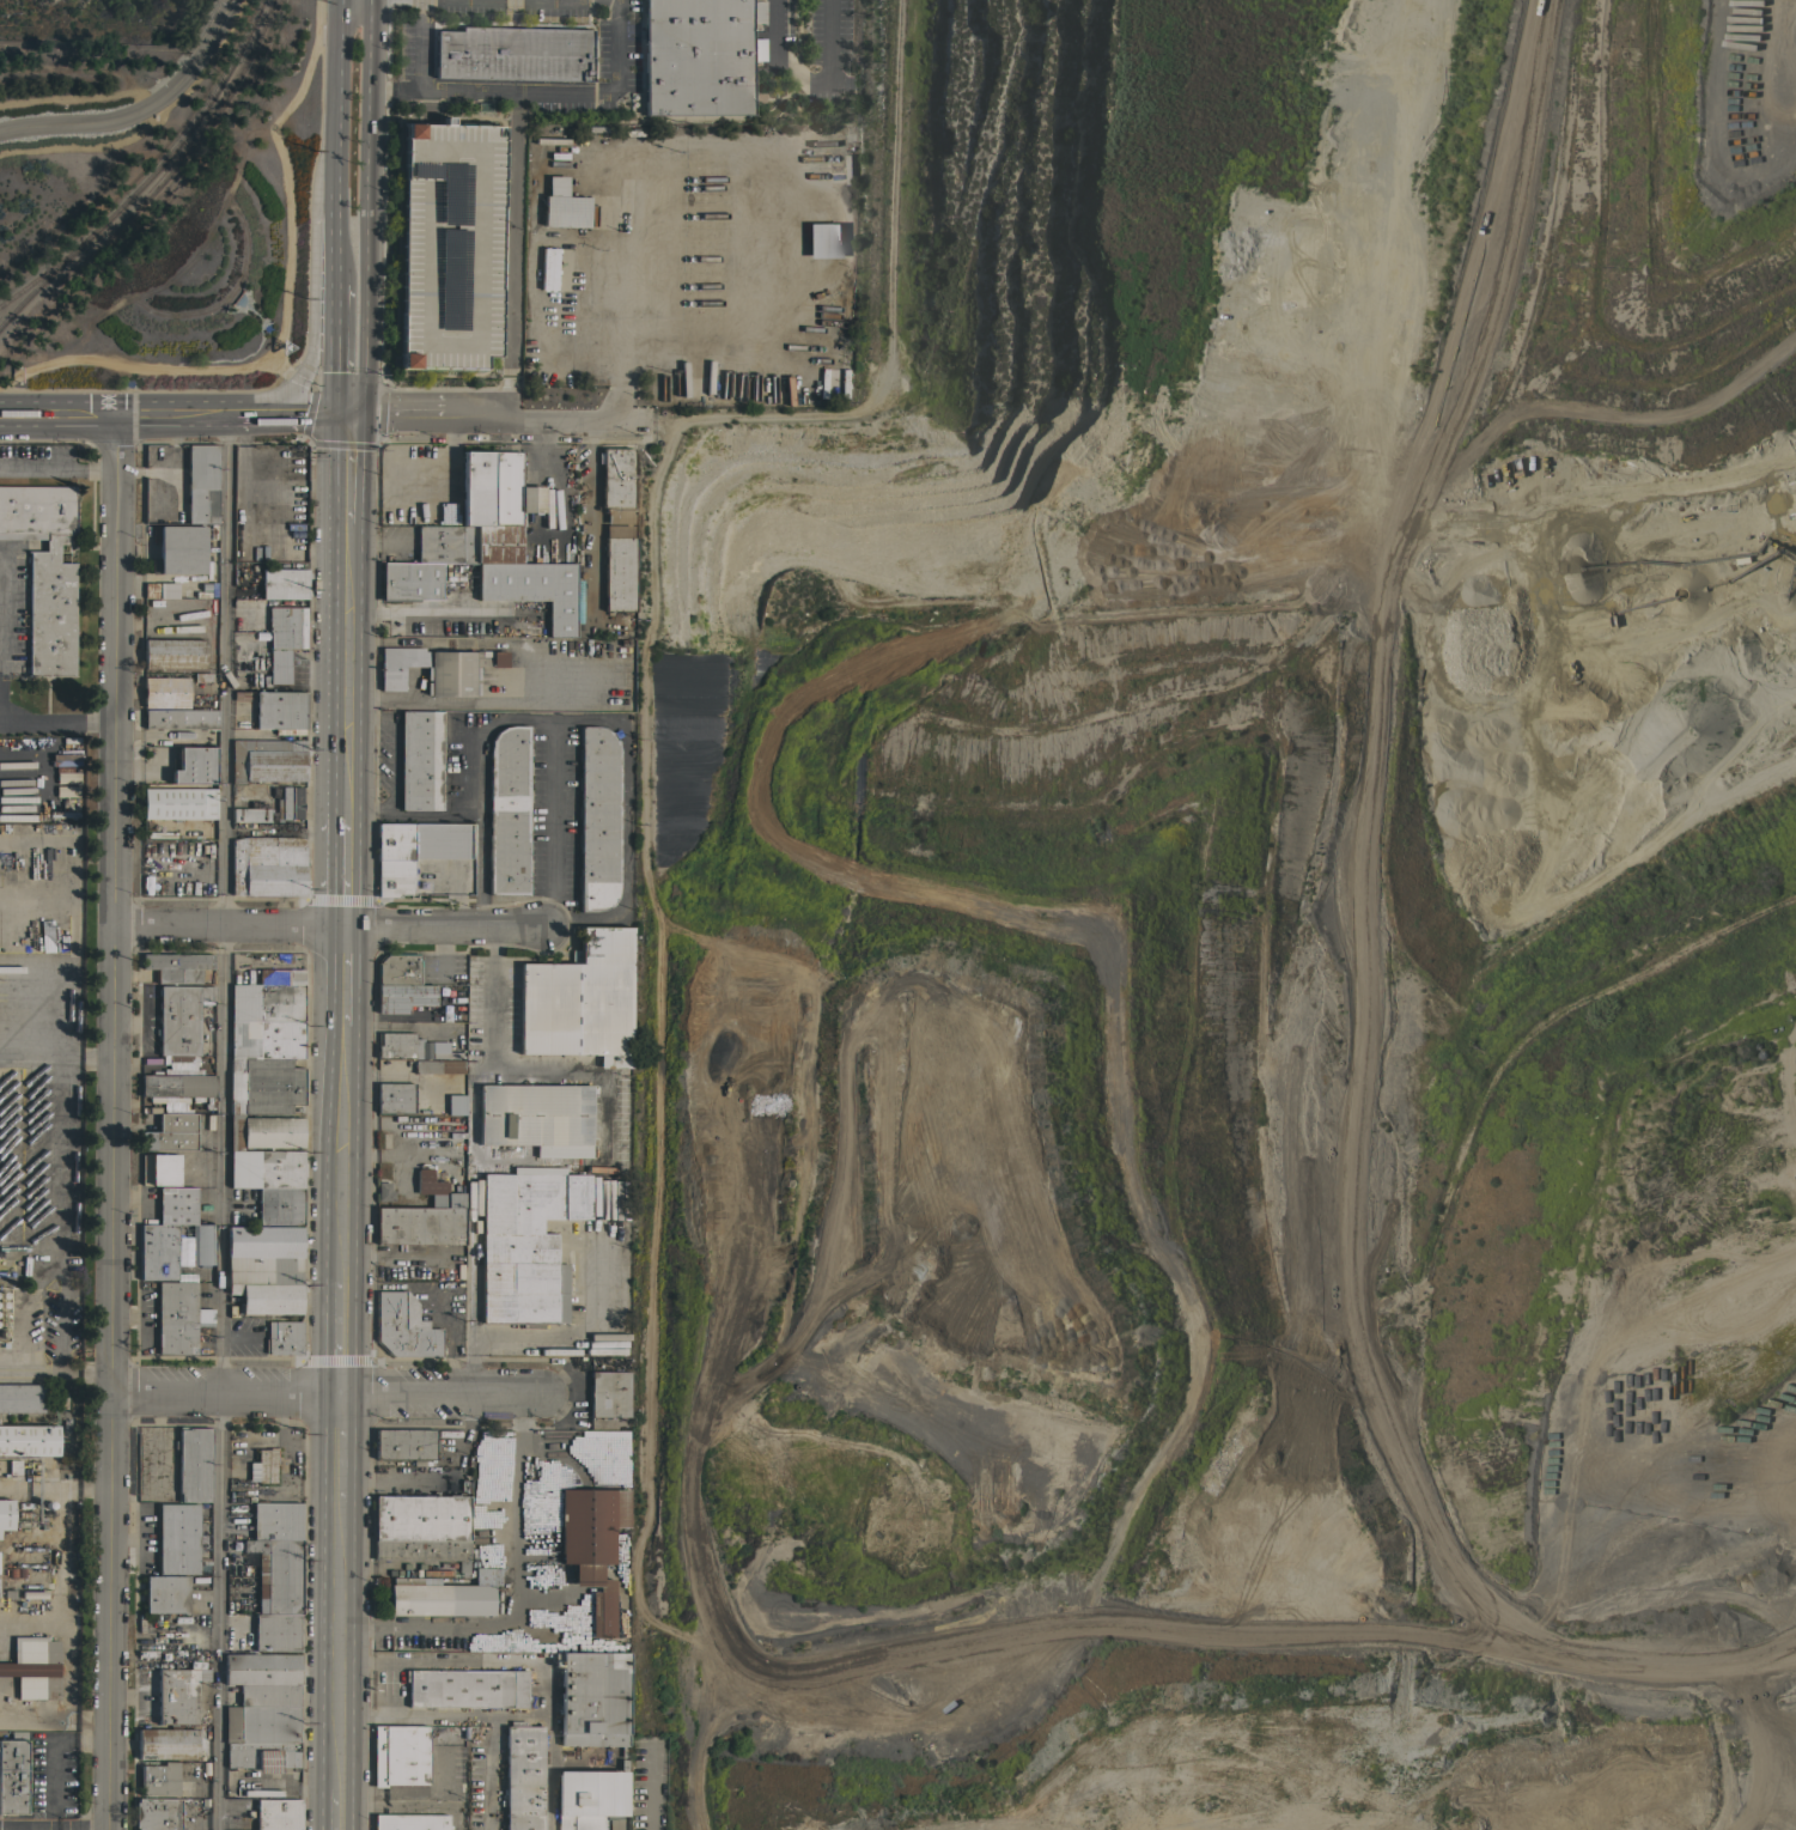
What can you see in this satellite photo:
building: (513, 54)
building: (699, 55)
road: (808, 75)
road: (524, 92)
road: (339, 96)
road: (145, 115)
railway: (148, 177)
building: (564, 205)
road: (370, 211)
road: (337, 237)
building: (823, 239)
building: (449, 244)
road: (509, 255)
building: (548, 268)
road: (617, 272)
railway: (38, 278)
road: (336, 292)
road: (311, 306)
road: (335, 360)
road: (615, 402)
road: (643, 418)
road: (168, 467)
road: (346, 467)
road: (59, 470)
building: (201, 484)
building: (615, 484)
road: (431, 487)
building: (495, 504)
building: (617, 530)
building: (446, 543)
building: (178, 549)
building: (44, 571)
building: (619, 573)
building: (409, 580)
building: (282, 583)
building: (160, 590)
building: (531, 590)
building: (267, 645)
building: (173, 653)
building: (498, 658)
building: (397, 664)
road: (343, 668)
building: (451, 671)
building: (165, 692)
building: (279, 710)
building: (179, 718)
road: (572, 721)
road: (54, 722)
building: (288, 731)
road: (112, 735)
road: (390, 742)
building: (268, 744)
building: (195, 756)
building: (420, 760)
building: (266, 765)
building: (191, 776)
building: (66, 777)
building: (66, 791)
building: (178, 803)
building: (288, 803)
building: (507, 810)
road: (409, 811)
building: (249, 814)
building: (597, 817)
road: (554, 823)
building: (414, 851)
building: (267, 865)
road: (341, 871)
road: (328, 924)
quarry: (1241, 949)
building: (176, 966)
building: (398, 969)
road: (341, 975)
building: (280, 977)
building: (402, 997)
road: (491, 997)
building: (580, 1001)
building: (266, 1002)
building: (179, 1019)
building: (266, 1039)
building: (398, 1045)
building: (445, 1054)
road: (55, 1057)
building: (438, 1066)
building: (177, 1086)
building: (262, 1086)
building: (394, 1098)
building: (455, 1104)
building: (536, 1118)
road: (219, 1121)
building: (263, 1131)
building: (622, 1131)
building: (170, 1132)
road: (341, 1154)
building: (264, 1168)
building: (159, 1169)
building: (538, 1169)
building: (383, 1190)
building: (437, 1191)
building: (176, 1205)
building: (279, 1205)
road: (59, 1216)
building: (418, 1223)
building: (263, 1241)
building: (526, 1244)
building: (171, 1251)
building: (621, 1256)
building: (260, 1271)
building: (270, 1297)
building: (178, 1318)
building: (403, 1327)
building: (282, 1337)
road: (340, 1338)
building: (602, 1348)
road: (85, 1374)
building: (608, 1393)
road: (324, 1394)
building: (20, 1398)
building: (26, 1442)
road: (110, 1442)
building: (406, 1445)
road: (340, 1447)
building: (193, 1464)
building: (262, 1465)
road: (59, 1507)
building: (5, 1514)
building: (421, 1519)
building: (274, 1521)
building: (177, 1539)
building: (592, 1545)
building: (425, 1552)
building: (275, 1575)
building: (165, 1593)
road: (515, 1593)
building: (438, 1598)
building: (275, 1631)
road: (339, 1644)
building: (34, 1667)
building: (263, 1678)
building: (465, 1688)
building: (592, 1690)
road: (544, 1694)
building: (177, 1695)
building: (260, 1723)
building: (596, 1740)
building: (166, 1744)
building: (407, 1751)
building: (258, 1755)
road: (491, 1771)
road: (550, 1771)
building: (12, 1774)
building: (523, 1776)
building: (159, 1779)
road: (647, 1787)
building: (590, 1799)
road: (337, 1808)
building: (276, 1813)
building: (157, 1814)
building: (235, 1822)
building: (409, 1822)
road: (54, 1828)

